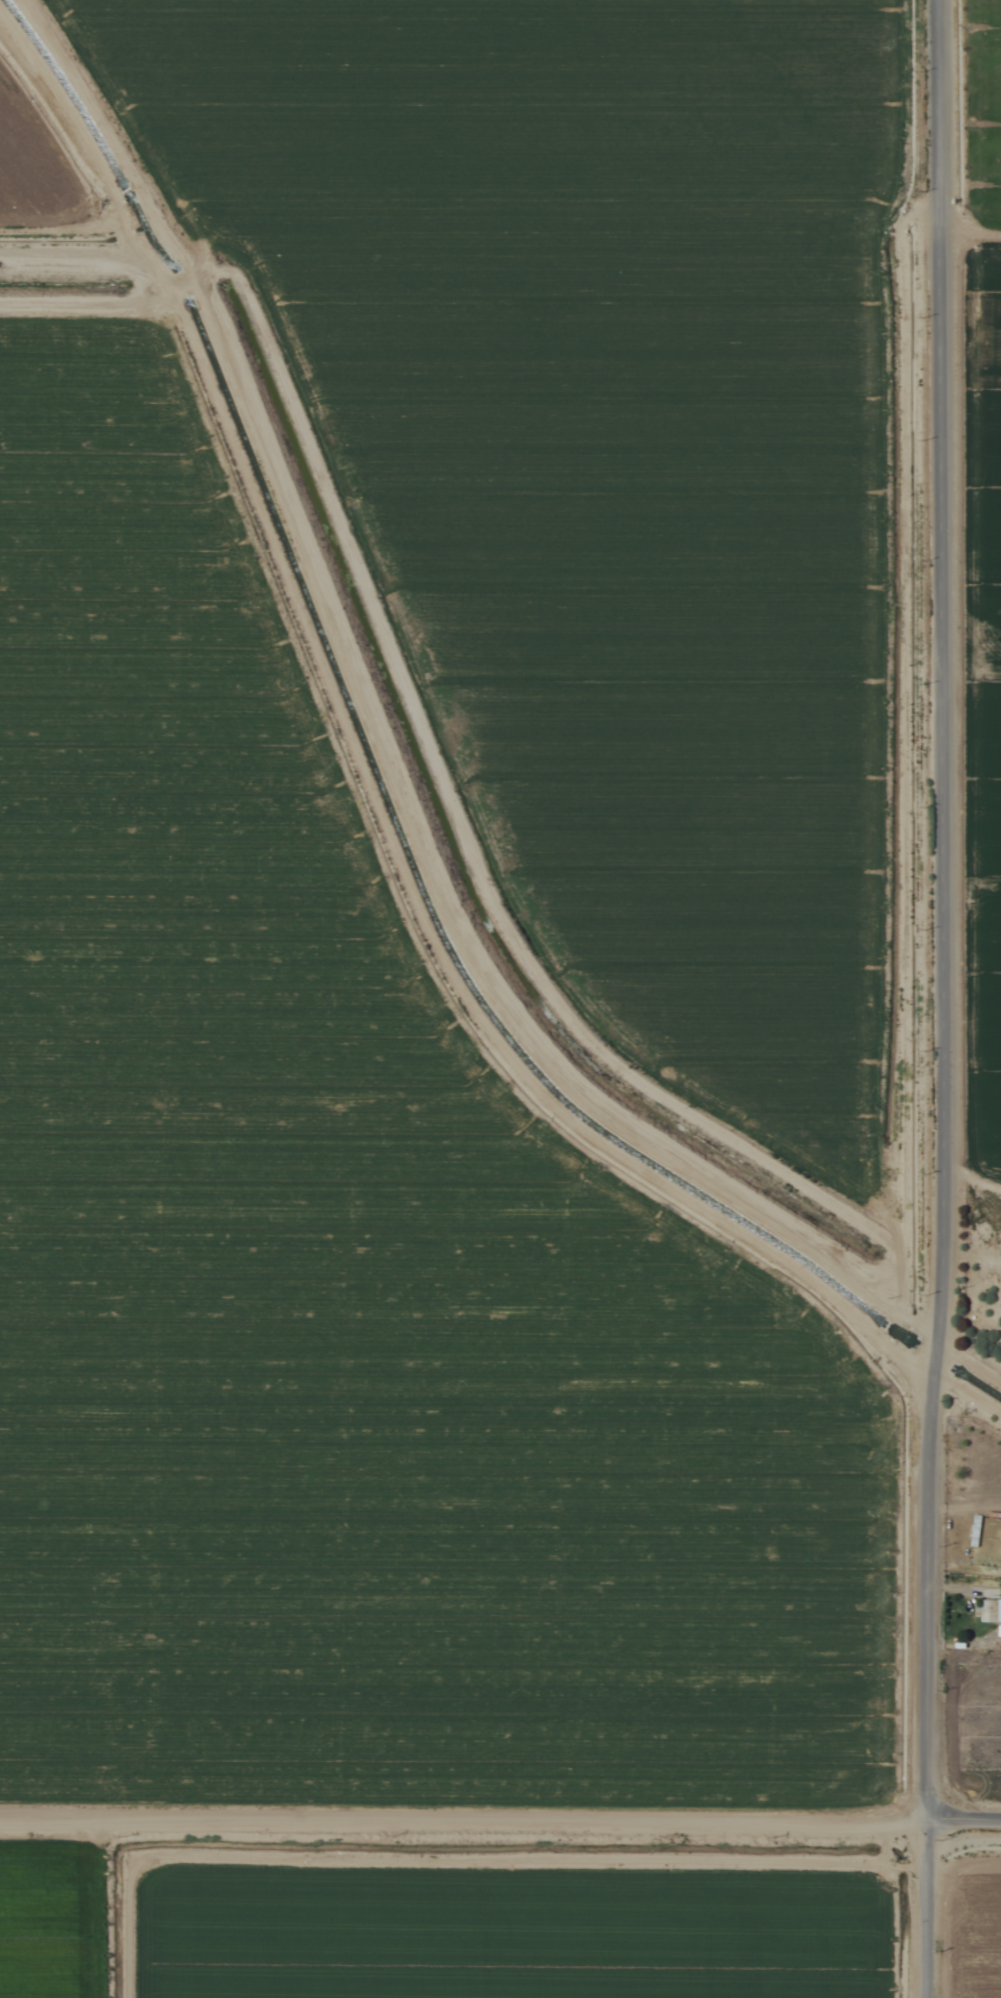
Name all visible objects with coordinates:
road: (942, 999)
road: (969, 1361)
building: (988, 1611)
road: (500, 1816)

